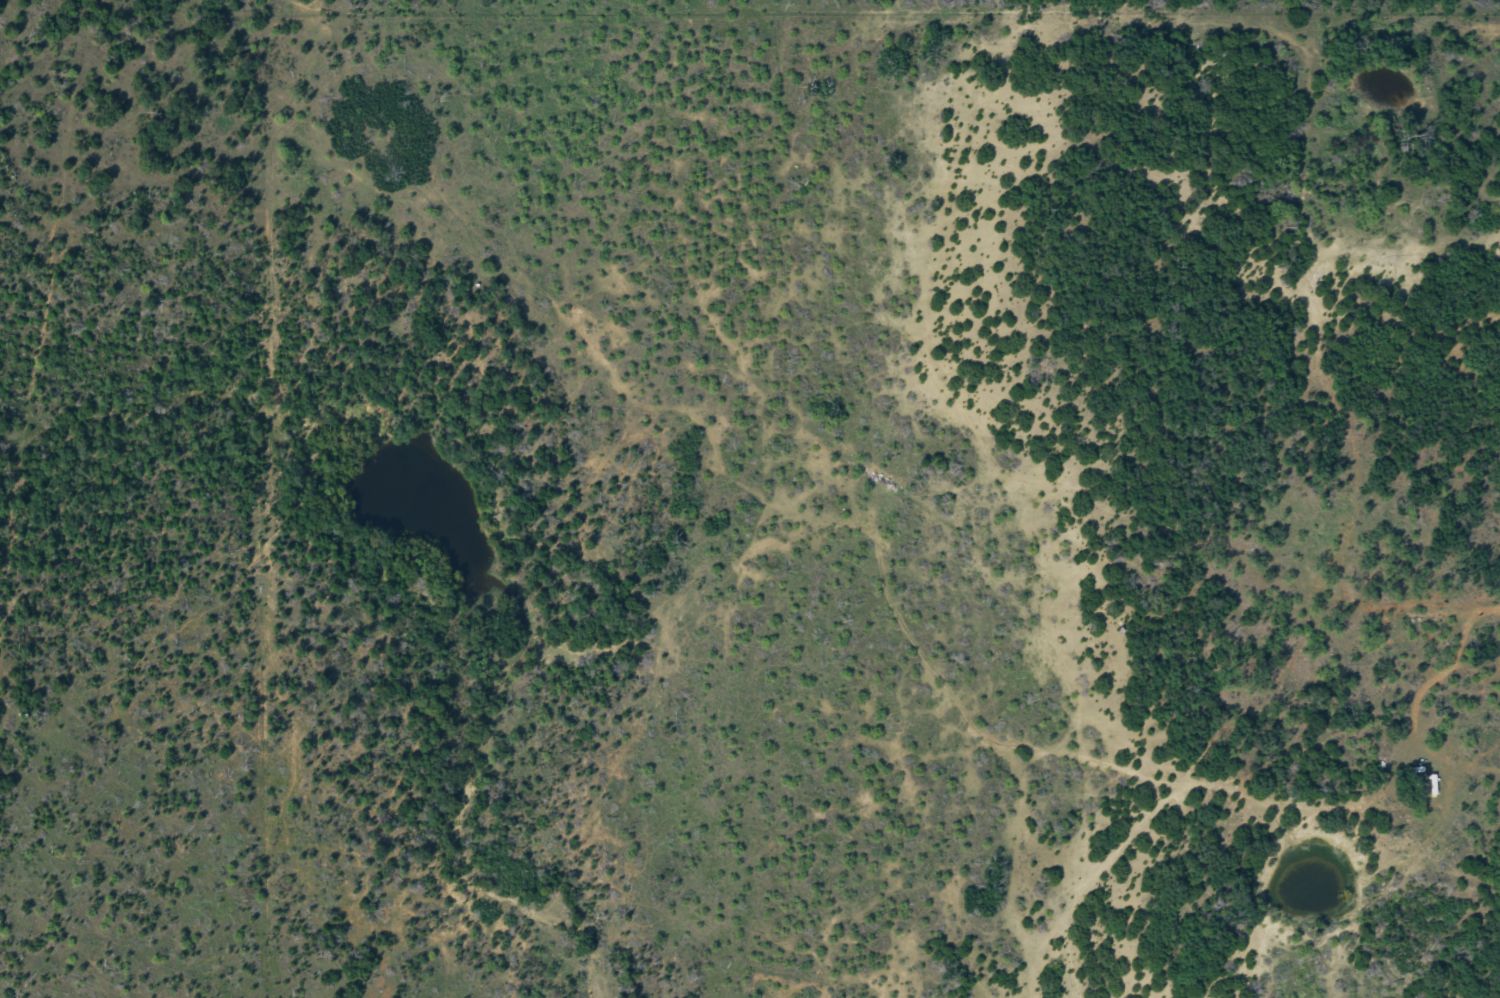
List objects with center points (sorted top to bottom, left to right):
road: (1449, 616)

